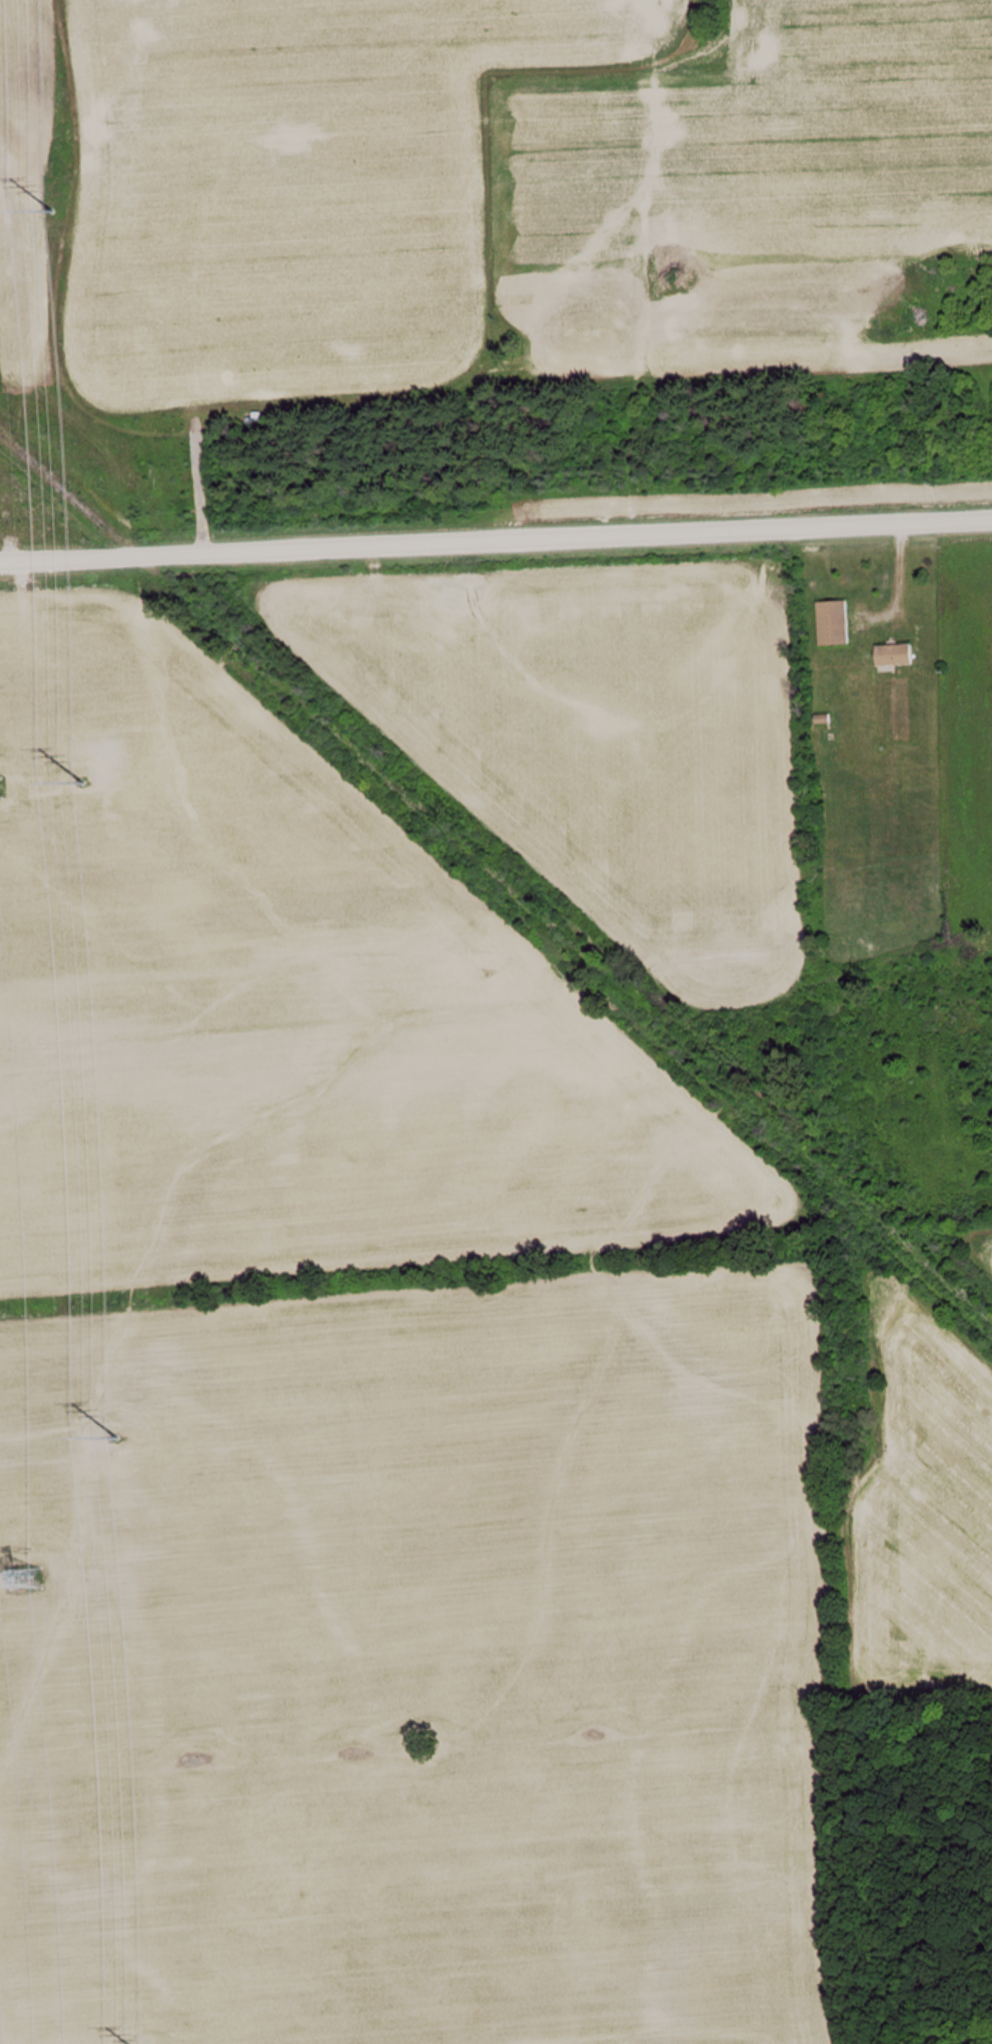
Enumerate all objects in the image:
power tower: (48, 212)
road: (496, 539)
building: (830, 622)
building: (891, 654)
power tower: (81, 783)
power tower: (119, 1437)
power tower: (23, 1579)

